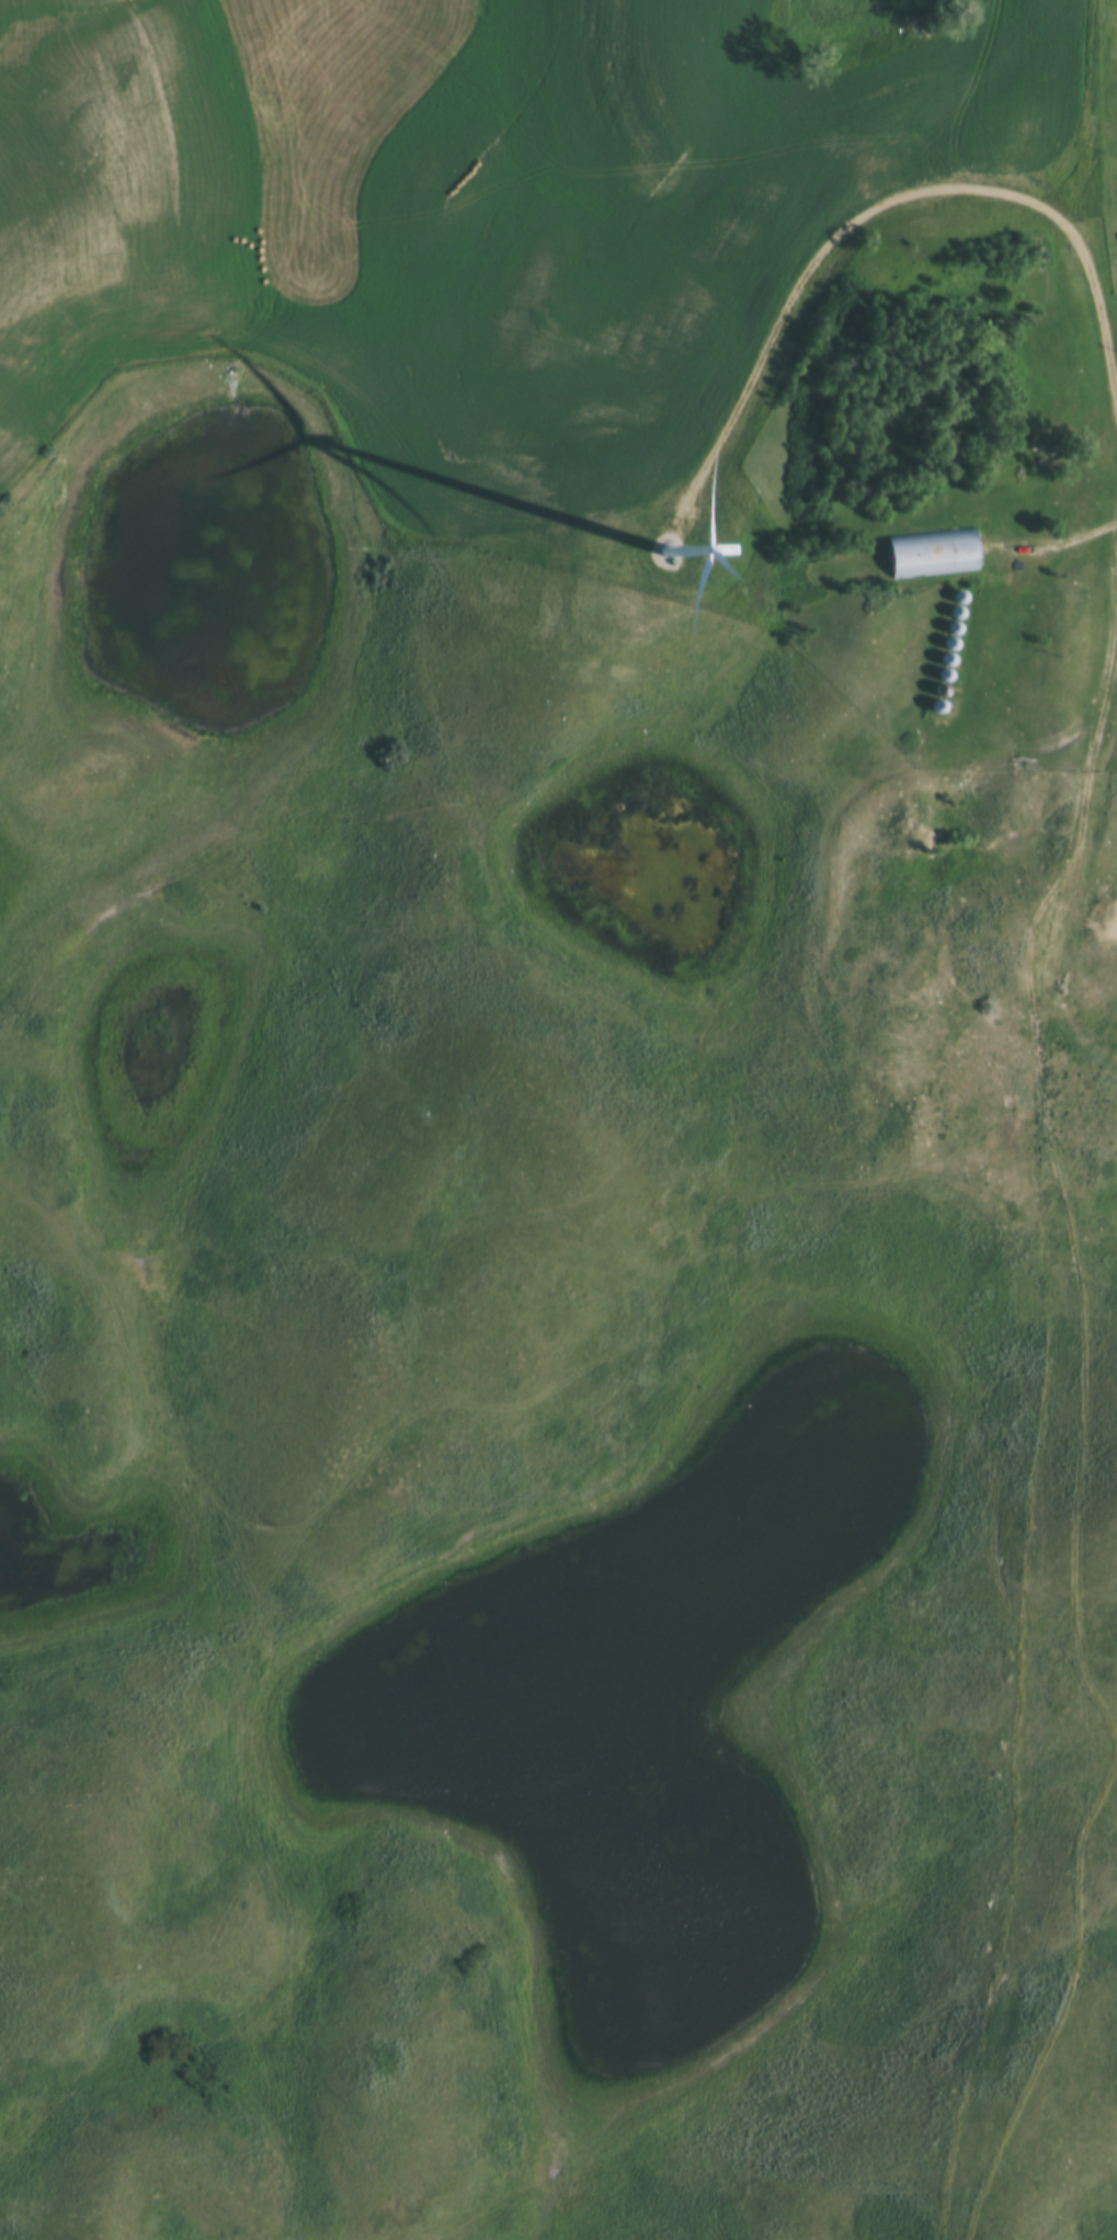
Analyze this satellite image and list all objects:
road: (1098, 148)
road: (884, 195)
road: (1065, 539)
wind turbine: (669, 555)
building: (928, 557)
building: (937, 709)

